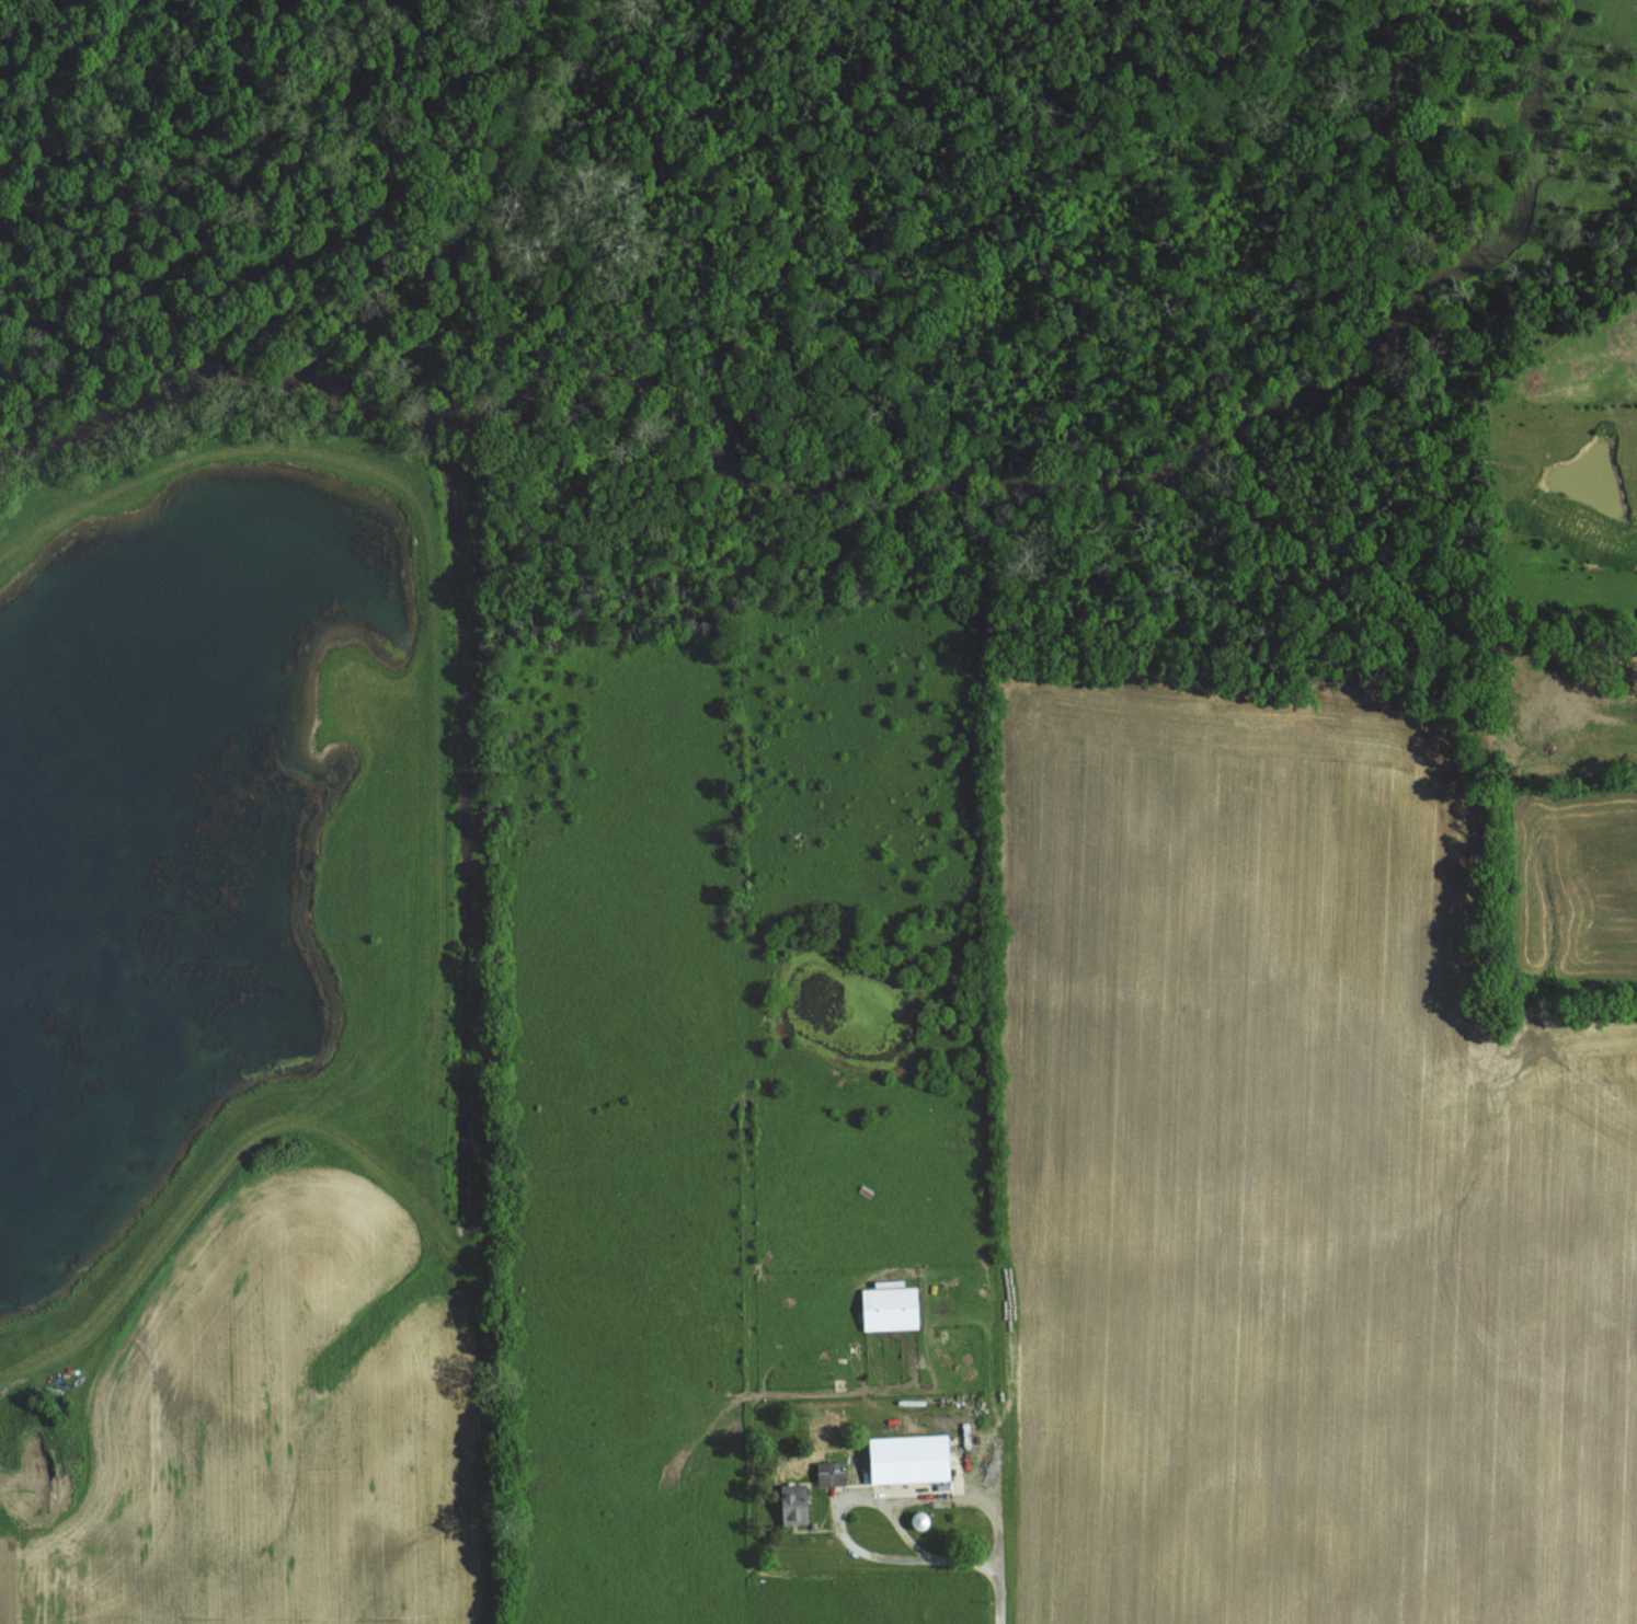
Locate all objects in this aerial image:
building: (890, 1305)
building: (908, 1458)
building: (831, 1473)
road: (972, 1502)
building: (794, 1505)
road: (844, 1541)
road: (998, 1604)

